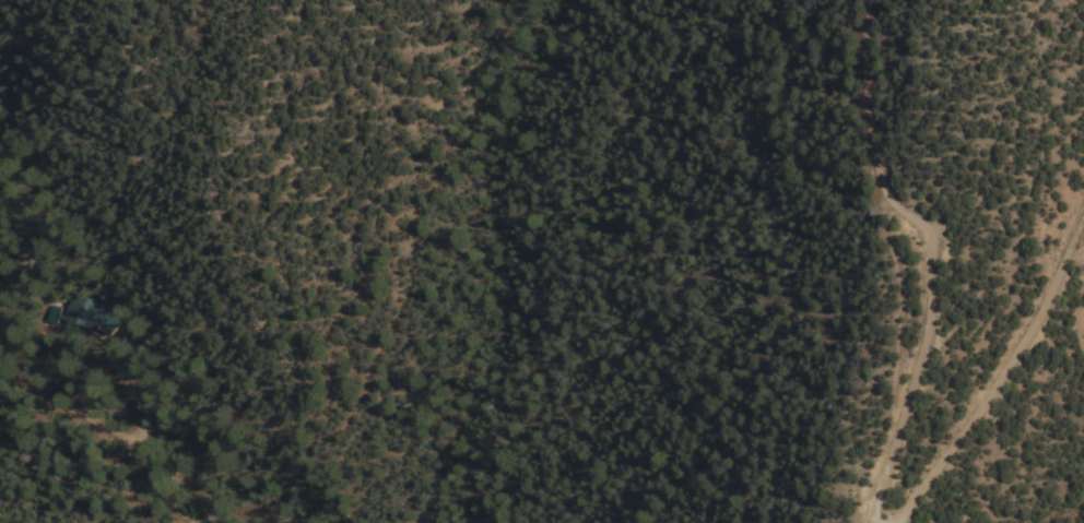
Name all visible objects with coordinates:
road: (934, 254)
building: (82, 313)
road: (1001, 375)
road: (114, 425)

